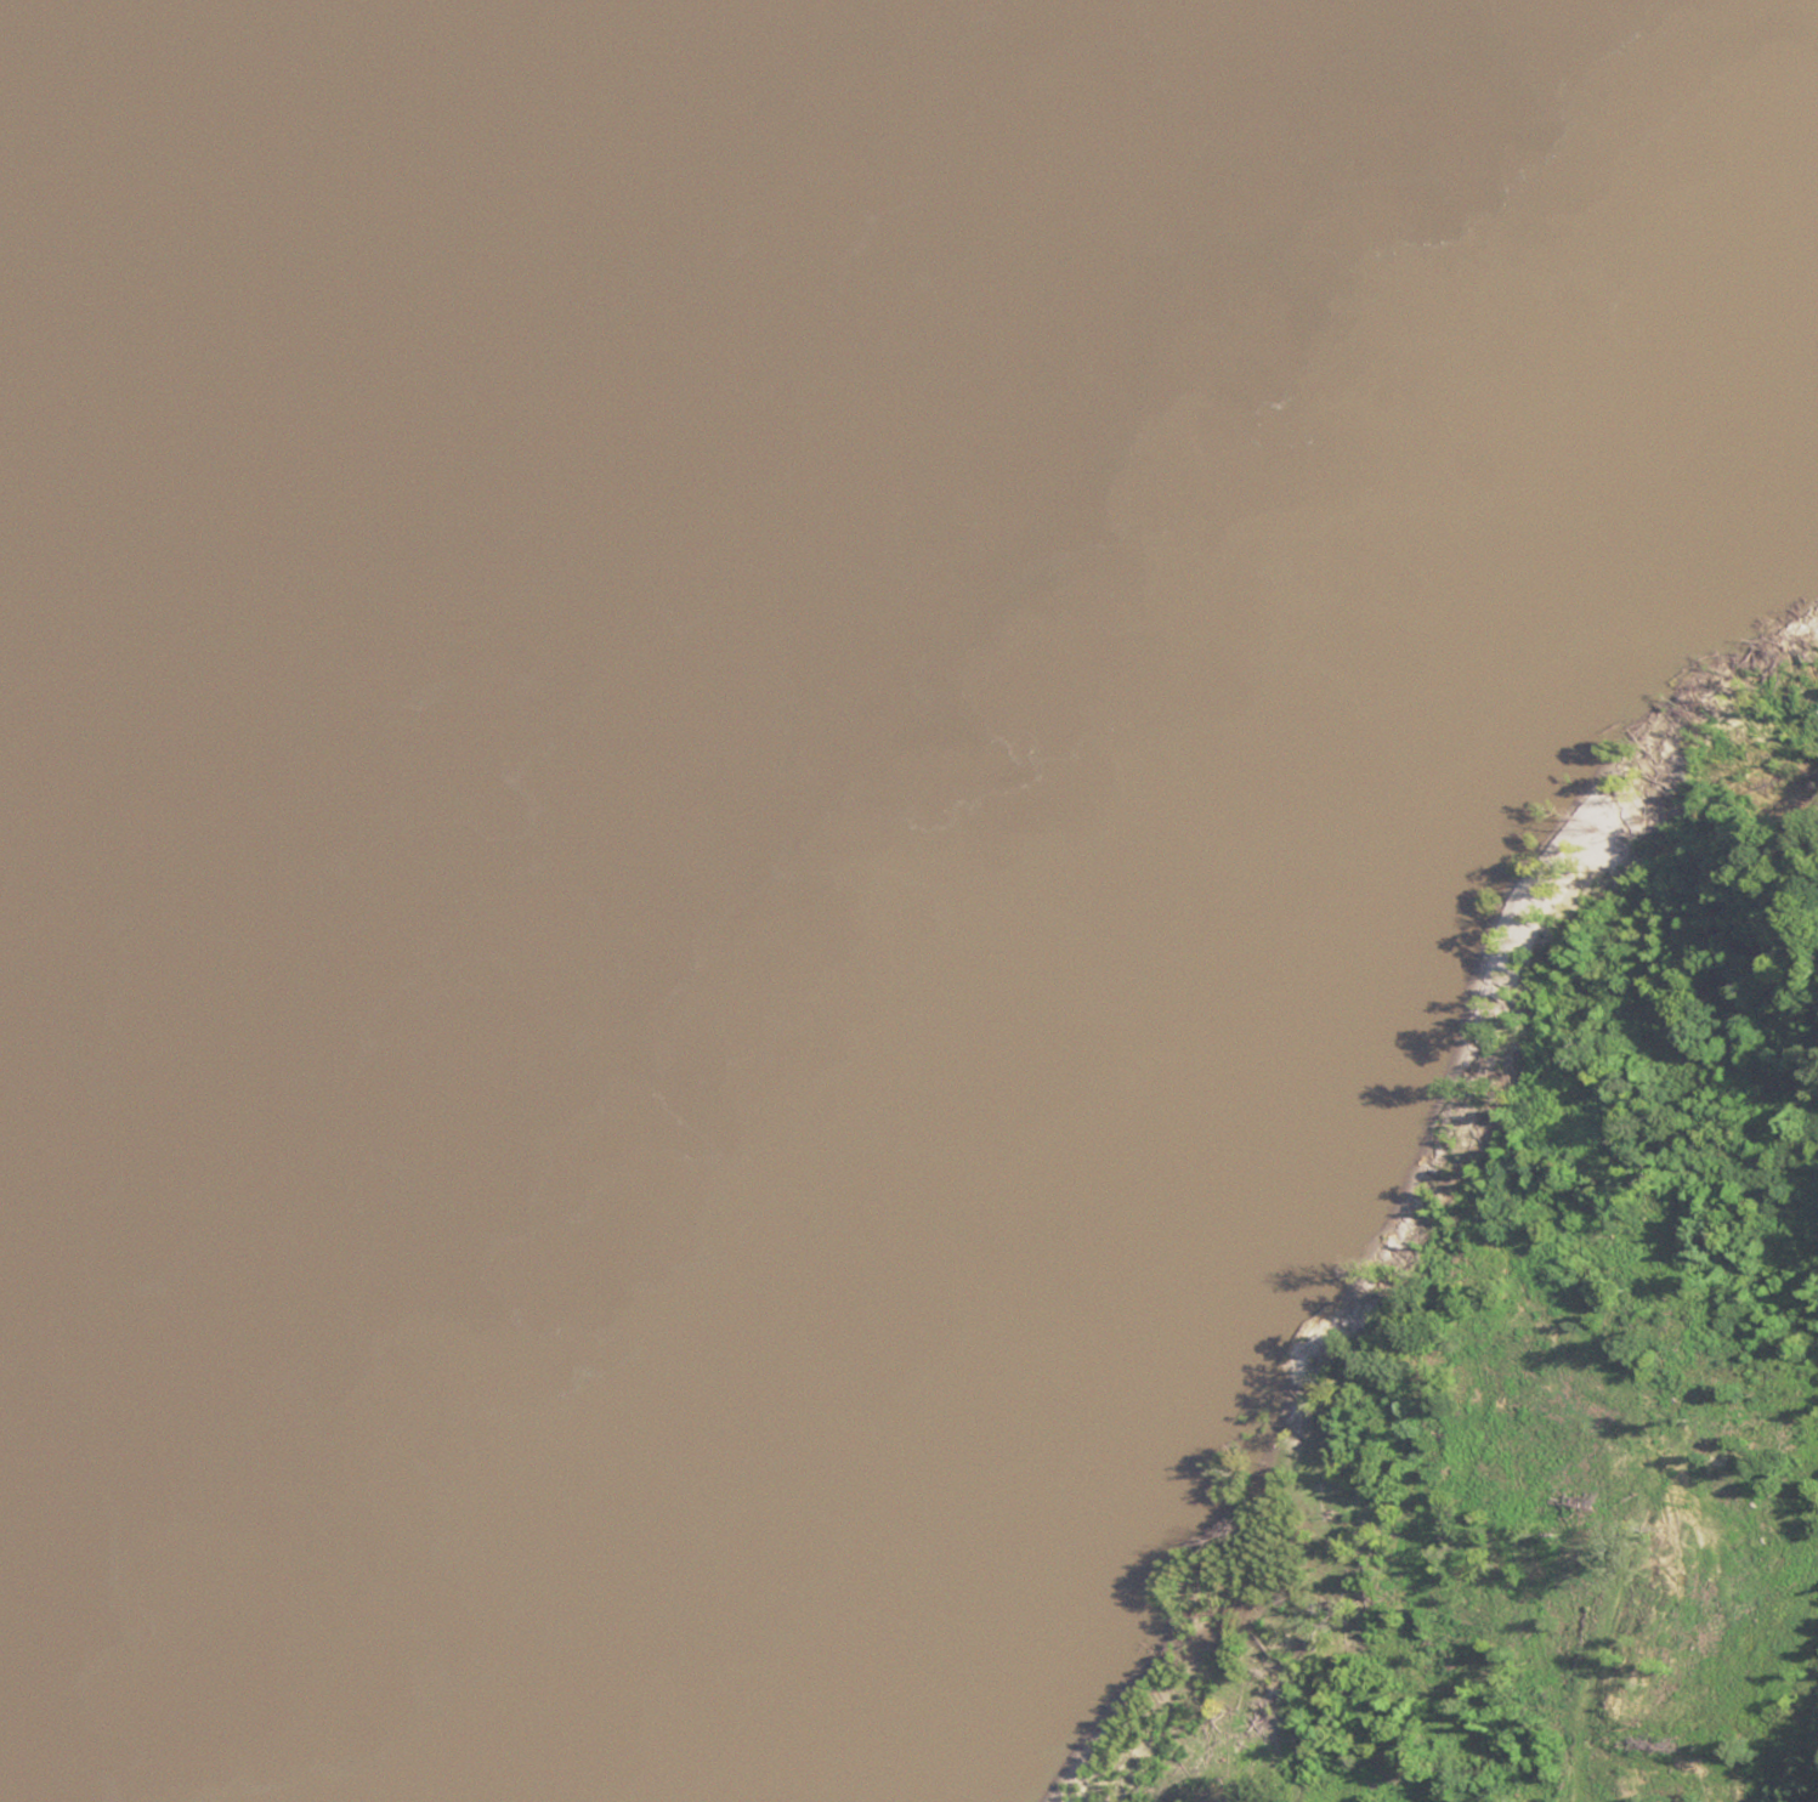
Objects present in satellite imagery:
river: (613, 758)

